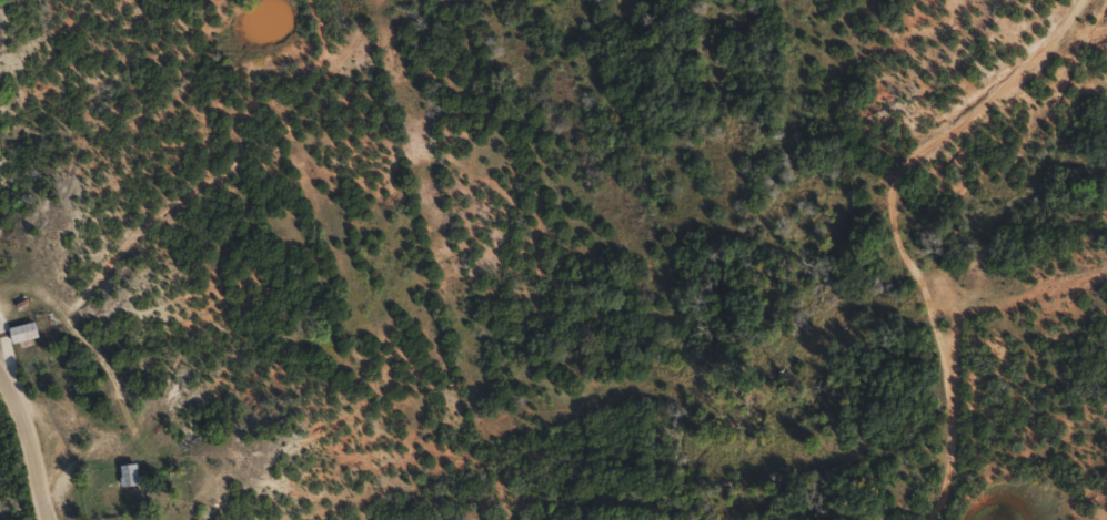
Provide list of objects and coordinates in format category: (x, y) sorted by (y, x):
building: (27, 341)
road: (10, 363)
park: (773, 441)
road: (34, 442)

